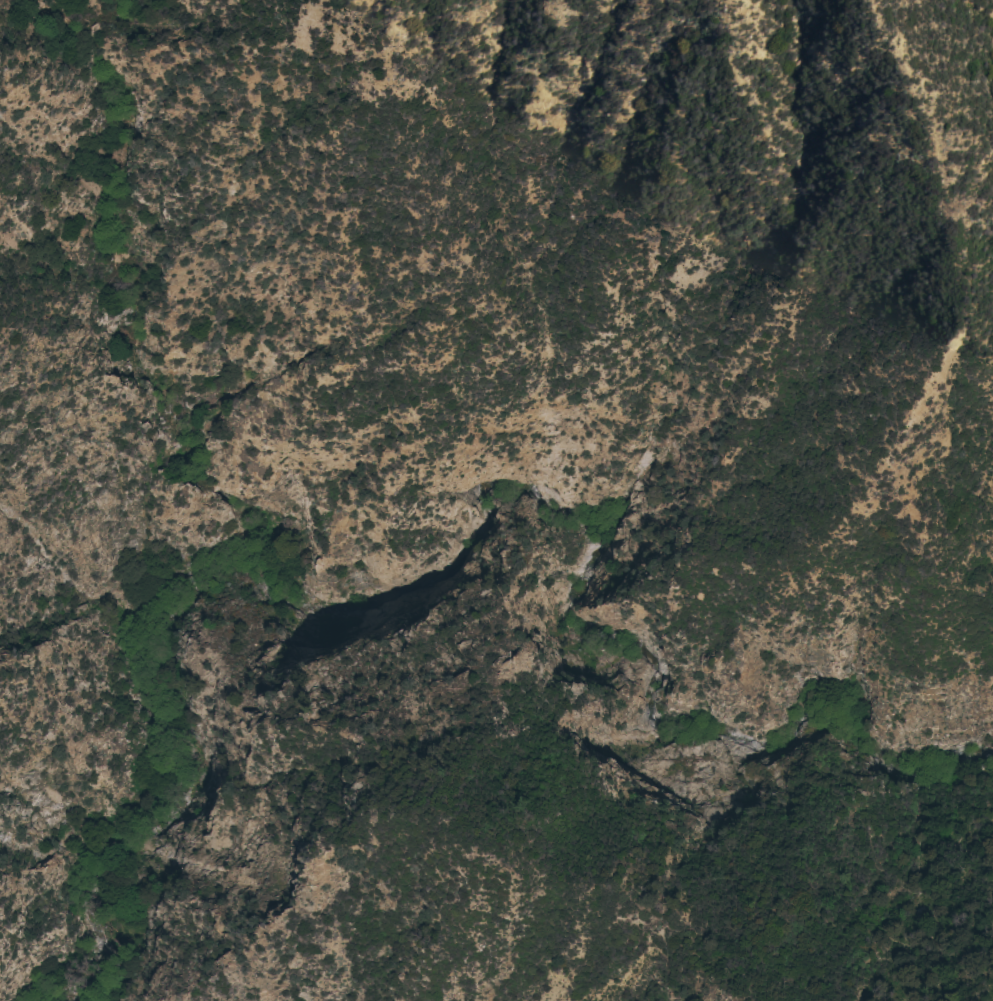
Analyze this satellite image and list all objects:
road: (645, 960)

